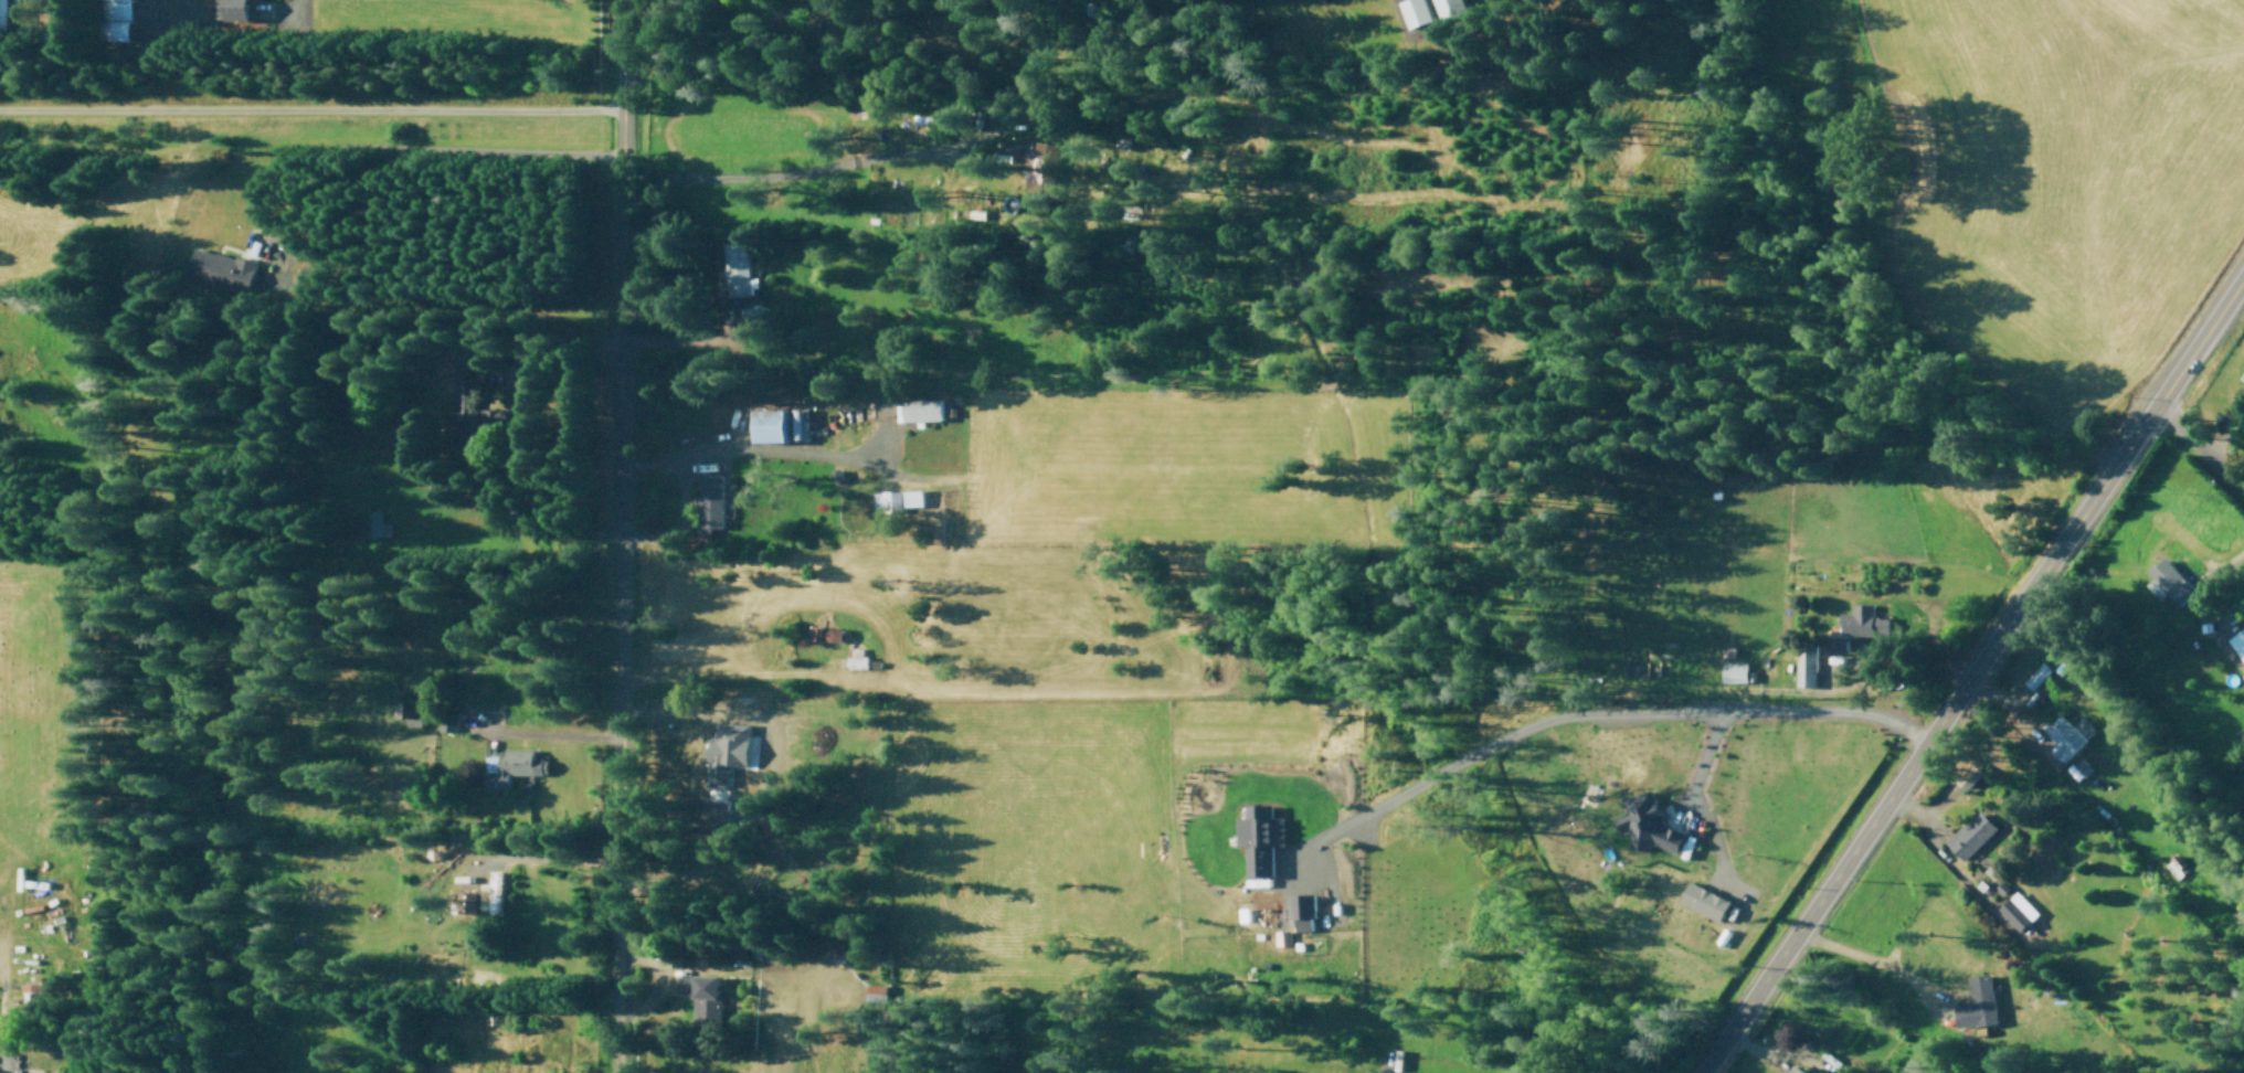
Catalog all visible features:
building: (1451, 8)
building: (231, 10)
building: (1416, 12)
building: (2, 14)
road: (309, 115)
road: (787, 176)
building: (1041, 178)
crop: (2063, 199)
building: (735, 268)
building: (220, 269)
building: (750, 321)
building: (464, 393)
building: (919, 410)
building: (488, 422)
building: (793, 424)
building: (770, 426)
road: (2200, 447)
building: (911, 498)
building: (710, 501)
building: (886, 501)
building: (375, 524)
road: (620, 535)
crop: (1772, 567)
building: (2169, 582)
building: (1857, 627)
building: (824, 633)
building: (2237, 642)
building: (855, 657)
building: (1806, 667)
building: (1735, 671)
road: (1972, 672)
building: (2040, 674)
building: (446, 722)
building: (2068, 735)
building: (726, 751)
road: (1976, 762)
building: (510, 766)
building: (2078, 768)
road: (2097, 796)
building: (1651, 822)
building: (1968, 832)
building: (1260, 837)
road: (1944, 852)
building: (2177, 867)
building: (490, 893)
building: (1706, 901)
building: (466, 907)
building: (1303, 912)
road: (1870, 953)
building: (874, 992)
building: (30, 995)
building: (701, 996)
building: (1976, 1005)
road: (1780, 1052)
building: (1796, 1070)

